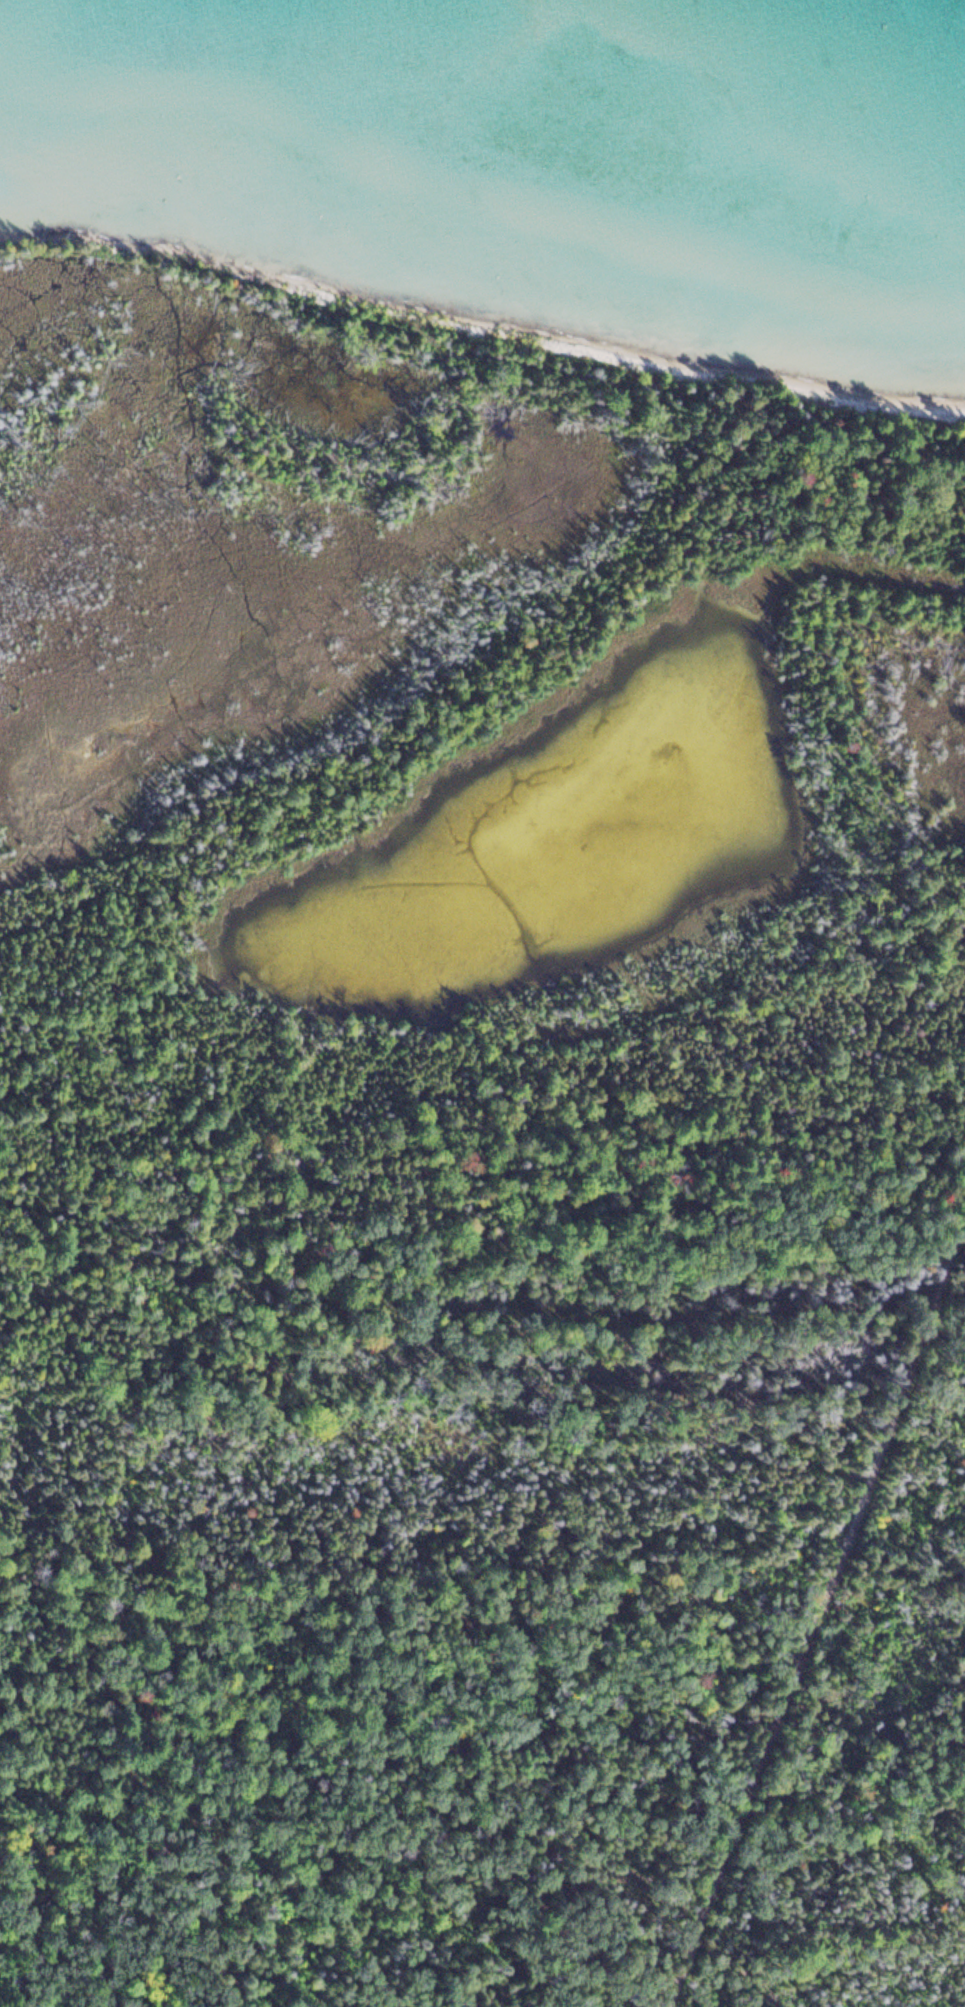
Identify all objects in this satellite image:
road: (819, 1615)

